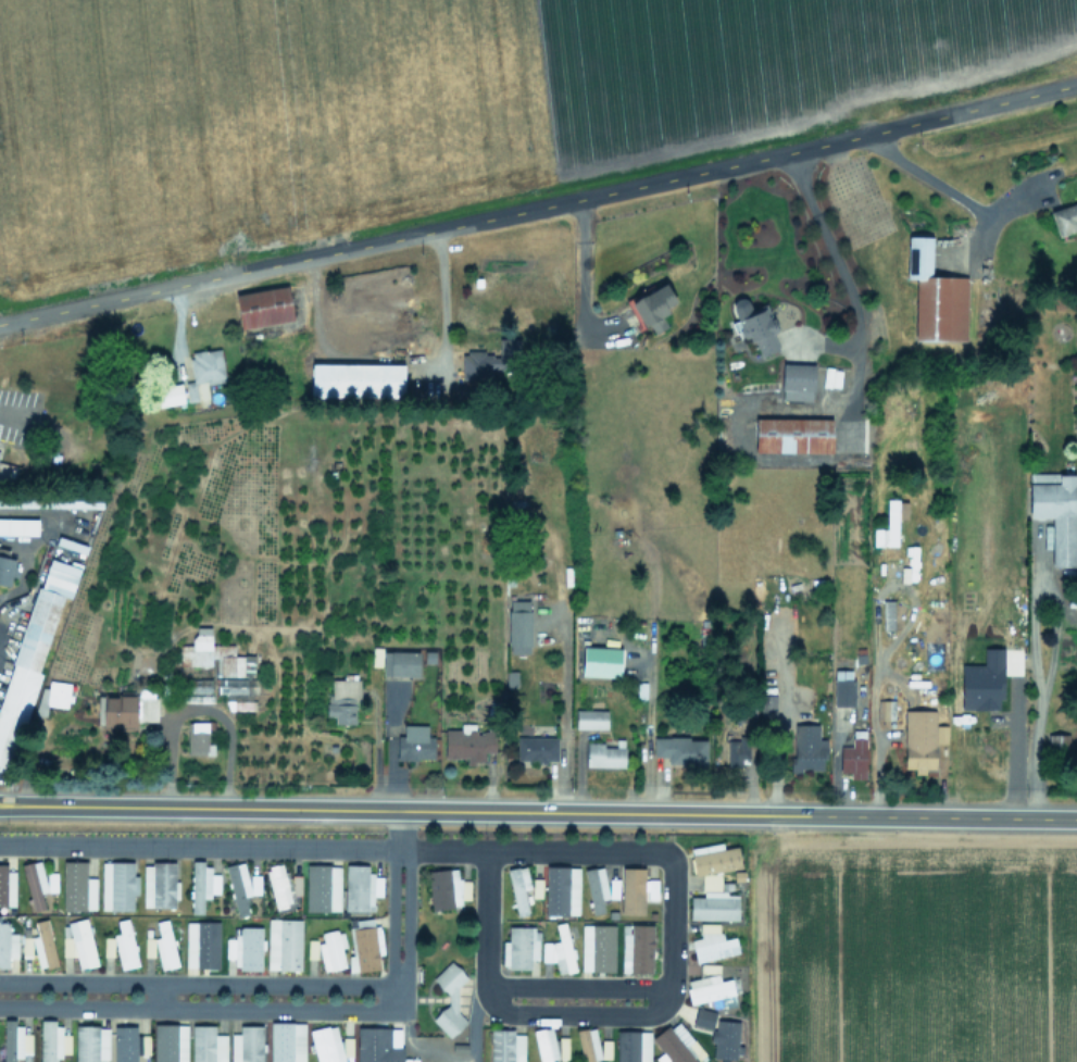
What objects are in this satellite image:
crop: (383, 87)
road: (945, 187)
road: (539, 207)
building: (1064, 217)
road: (834, 255)
road: (577, 290)
building: (935, 296)
road: (442, 303)
building: (651, 305)
building: (263, 307)
building: (753, 324)
building: (477, 365)
building: (203, 373)
building: (355, 379)
building: (797, 382)
building: (168, 395)
building: (792, 435)
building: (8, 472)
building: (50, 503)
building: (1054, 511)
building: (890, 523)
building: (18, 526)
road: (21, 569)
building: (7, 571)
road: (905, 622)
building: (518, 626)
road: (1052, 647)
building: (32, 651)
building: (214, 655)
building: (600, 661)
building: (396, 662)
building: (510, 678)
building: (236, 687)
building: (842, 687)
building: (52, 696)
building: (342, 699)
building: (241, 704)
building: (766, 707)
building: (126, 709)
road: (564, 719)
building: (590, 719)
road: (779, 725)
building: (198, 738)
building: (921, 739)
road: (1006, 740)
building: (414, 742)
building: (467, 742)
building: (1059, 742)
building: (806, 747)
road: (385, 748)
building: (536, 748)
building: (680, 750)
building: (737, 750)
building: (993, 750)
building: (604, 754)
building: (853, 755)
road: (373, 810)
road: (912, 816)
road: (399, 828)
road: (334, 846)
building: (714, 860)
building: (711, 882)
building: (5, 884)
building: (116, 885)
building: (158, 885)
building: (201, 885)
building: (77, 886)
building: (240, 886)
building: (281, 886)
building: (322, 887)
building: (360, 887)
building: (536, 887)
building: (599, 887)
building: (447, 888)
building: (518, 888)
building: (561, 890)
building: (635, 890)
building: (713, 905)
road: (391, 913)
road: (486, 923)
road: (405, 925)
road: (669, 925)
building: (7, 944)
building: (78, 944)
building: (201, 944)
building: (283, 944)
building: (365, 944)
building: (712, 944)
building: (39, 945)
building: (124, 945)
crop: (911, 945)
building: (108, 946)
building: (148, 946)
building: (164, 946)
building: (519, 947)
building: (597, 947)
building: (245, 948)
building: (636, 948)
building: (331, 950)
building: (559, 950)
road: (193, 984)
building: (710, 986)
road: (575, 987)
road: (392, 992)
road: (159, 995)
road: (199, 1007)
road: (576, 1013)
building: (703, 1017)
road: (474, 1023)
building: (725, 1039)
building: (14, 1041)
building: (52, 1041)
building: (286, 1041)
building: (130, 1042)
building: (170, 1042)
building: (90, 1044)
building: (677, 1044)
building: (206, 1045)
building: (246, 1045)
building: (329, 1045)
building: (378, 1045)
building: (505, 1046)
building: (550, 1046)
building: (633, 1046)

